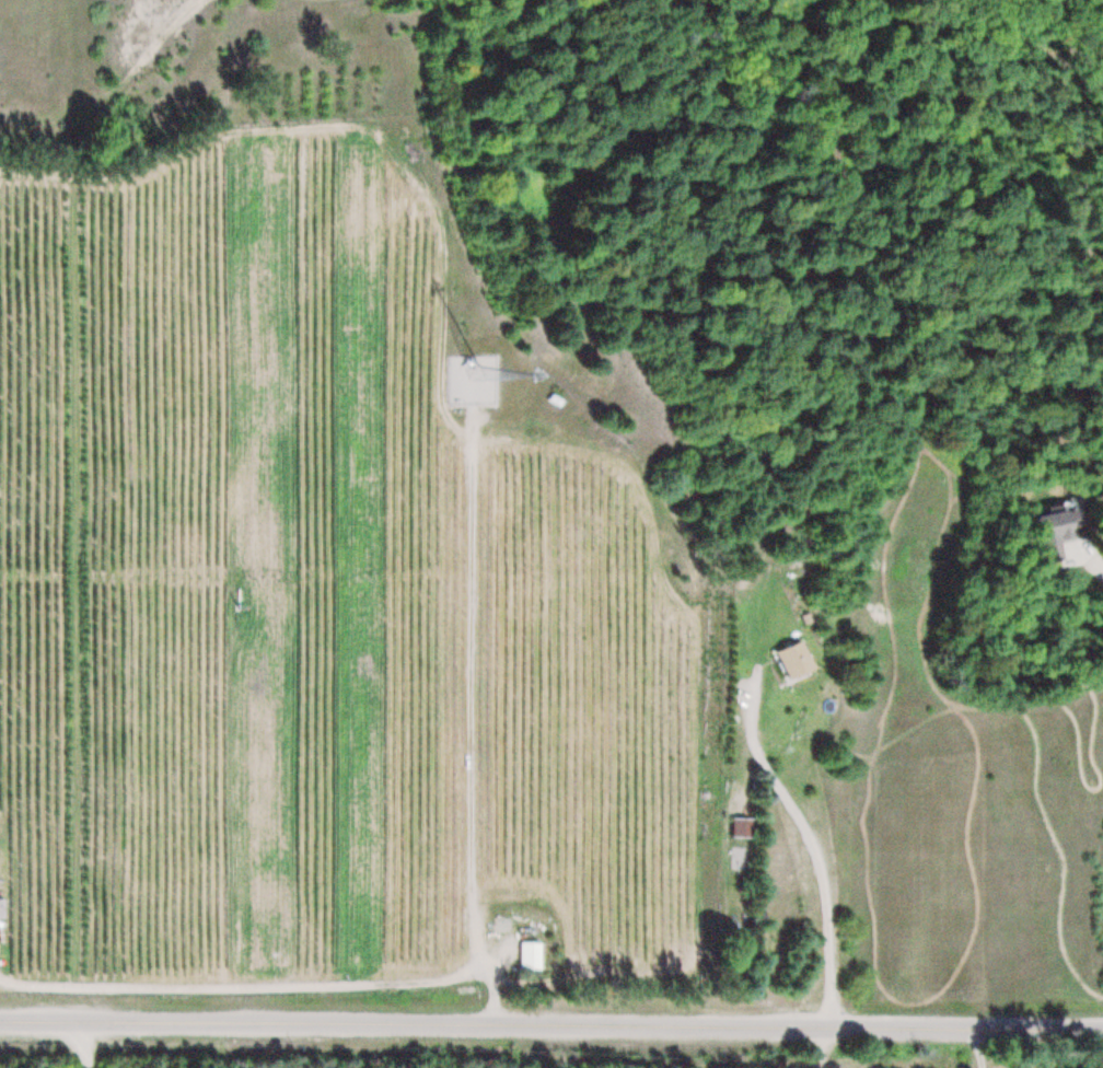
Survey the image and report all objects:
road: (116, 91)
road: (1094, 561)
building: (799, 661)
building: (533, 954)
road: (550, 1025)

